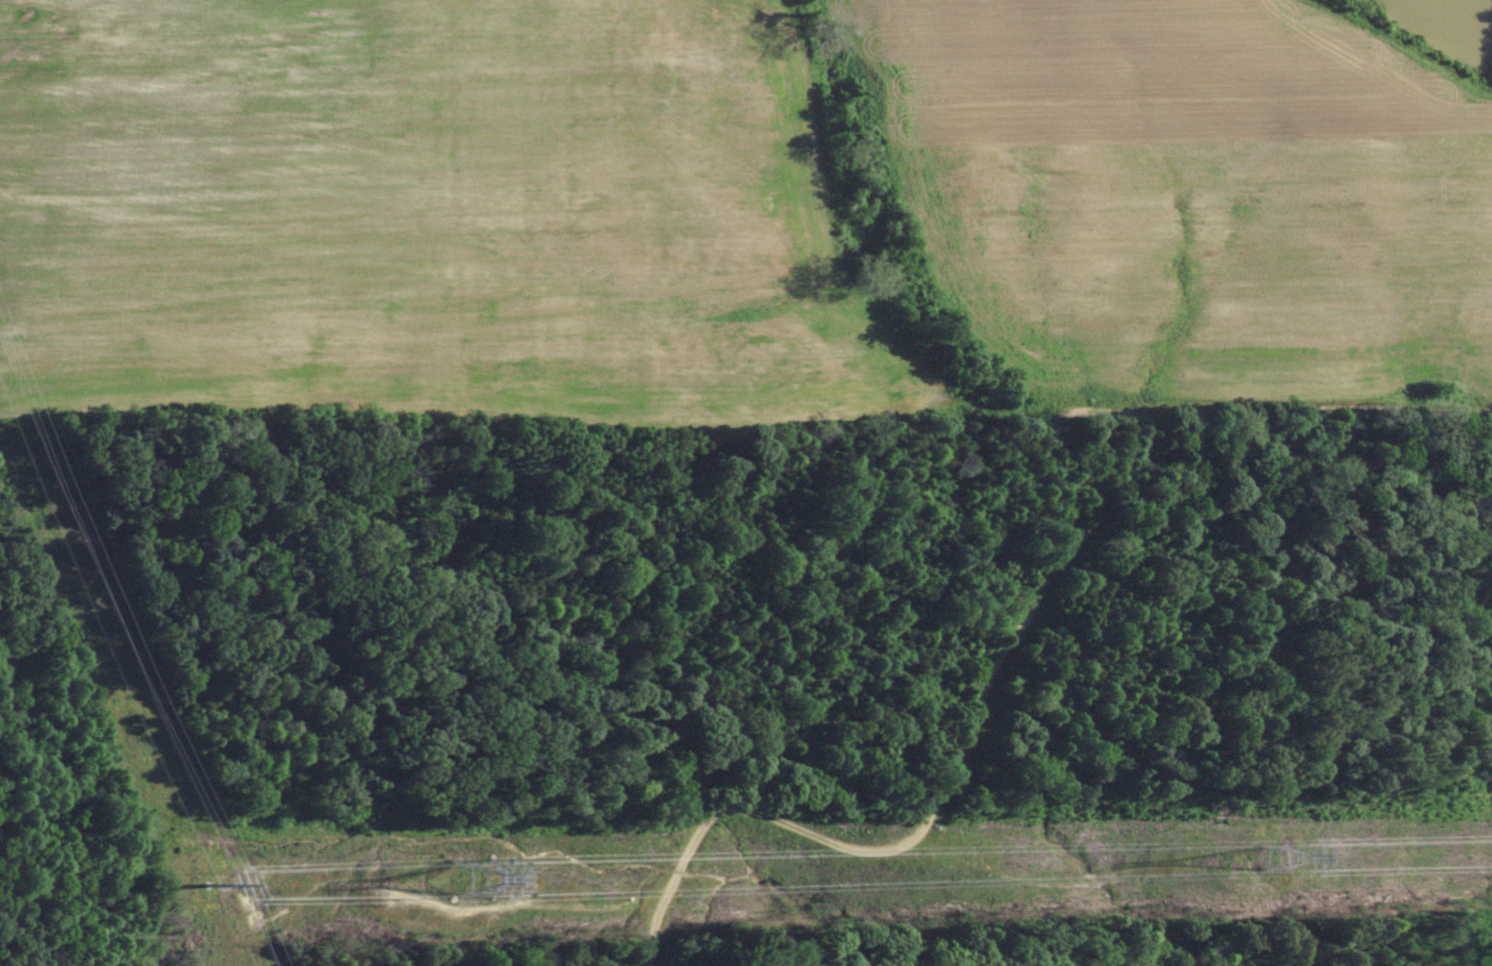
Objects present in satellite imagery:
road: (1038, 582)
power tower: (1269, 855)
power tower: (467, 874)
power tower: (204, 886)

